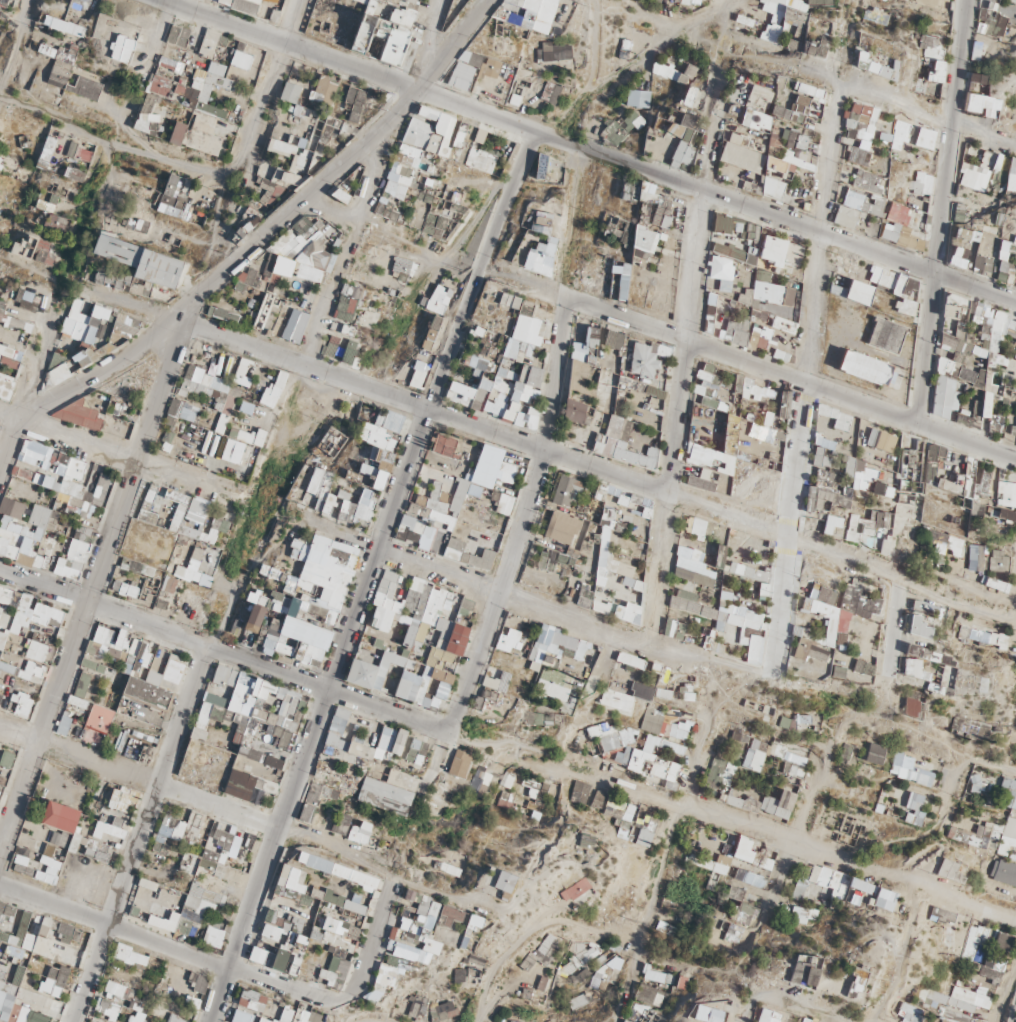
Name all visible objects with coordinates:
road: (944, 210)

